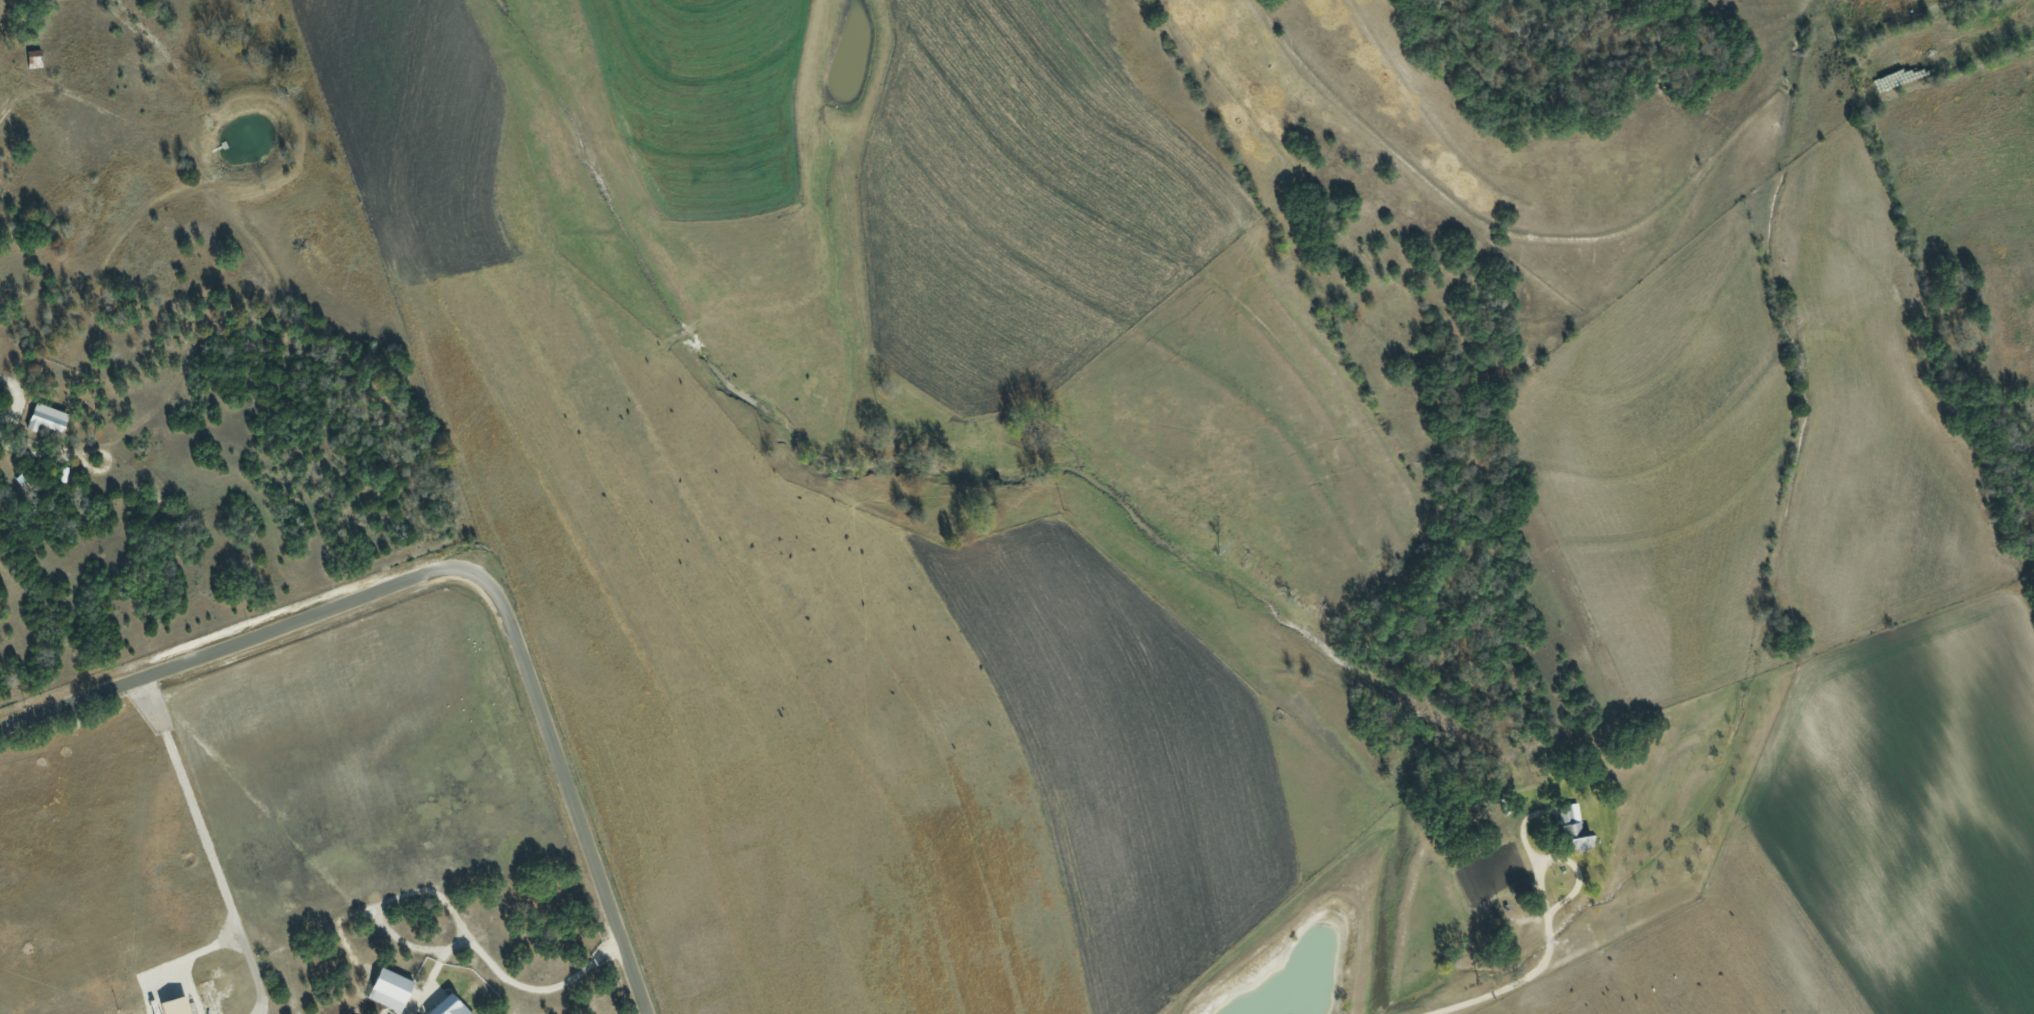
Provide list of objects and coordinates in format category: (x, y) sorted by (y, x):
building: (48, 418)
road: (462, 567)
building: (1572, 830)
road: (207, 845)
road: (1551, 947)
road: (528, 987)
building: (393, 990)
building: (451, 1006)

